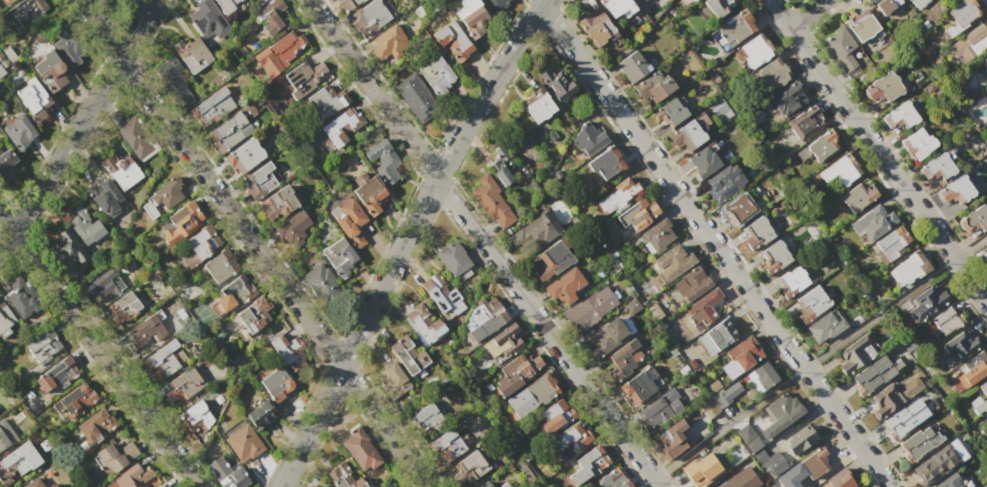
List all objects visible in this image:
building: (105, 0)
building: (910, 0)
building: (692, 1)
building: (8, 2)
building: (347, 4)
building: (493, 4)
building: (227, 5)
building: (883, 6)
building: (720, 7)
building: (616, 8)
building: (28, 12)
building: (962, 12)
road: (806, 15)
building: (274, 16)
building: (367, 18)
building: (471, 19)
building: (206, 20)
building: (861, 25)
building: (595, 29)
building: (736, 29)
building: (68, 42)
building: (386, 43)
building: (970, 43)
building: (450, 45)
building: (842, 50)
building: (191, 52)
building: (754, 52)
building: (282, 53)
building: (983, 65)
building: (632, 68)
building: (49, 71)
building: (305, 75)
building: (772, 75)
building: (436, 77)
building: (175, 83)
building: (556, 83)
building: (654, 89)
building: (881, 92)
building: (414, 99)
building: (326, 100)
building: (34, 101)
building: (784, 104)
building: (538, 108)
building: (211, 109)
building: (719, 109)
building: (669, 115)
building: (898, 119)
road: (80, 123)
building: (806, 124)
building: (340, 129)
building: (18, 133)
building: (229, 133)
building: (692, 135)
building: (136, 136)
building: (588, 138)
building: (917, 144)
building: (823, 147)
road: (877, 151)
building: (243, 158)
building: (383, 163)
building: (703, 164)
building: (606, 165)
building: (7, 166)
building: (501, 168)
building: (120, 169)
building: (936, 170)
building: (839, 173)
building: (262, 180)
building: (722, 187)
building: (956, 194)
building: (857, 197)
building: (104, 198)
building: (371, 198)
building: (618, 198)
building: (163, 199)
building: (490, 204)
building: (278, 206)
building: (736, 212)
building: (637, 217)
building: (872, 223)
building: (974, 223)
building: (84, 224)
building: (179, 225)
building: (352, 226)
building: (295, 231)
building: (755, 234)
building: (533, 236)
building: (658, 237)
road: (405, 238)
road: (252, 243)
road: (483, 243)
road: (713, 243)
building: (892, 244)
building: (198, 248)
building: (67, 252)
building: (984, 255)
building: (341, 259)
building: (772, 259)
building: (452, 260)
building: (985, 260)
building: (550, 262)
building: (673, 264)
building: (221, 268)
building: (909, 271)
building: (791, 283)
building: (692, 285)
building: (105, 286)
building: (322, 288)
building: (565, 290)
building: (236, 293)
building: (439, 294)
building: (19, 298)
building: (812, 303)
building: (925, 303)
building: (124, 308)
building: (631, 308)
building: (705, 311)
building: (589, 312)
road: (878, 312)
building: (5, 317)
building: (256, 319)
building: (481, 322)
building: (945, 322)
building: (424, 325)
building: (826, 327)
building: (146, 333)
building: (725, 333)
building: (605, 341)
building: (507, 343)
building: (960, 346)
building: (44, 347)
road: (99, 349)
building: (290, 350)
building: (408, 356)
building: (854, 356)
building: (738, 359)
building: (163, 361)
building: (623, 363)
building: (976, 366)
building: (683, 372)
building: (872, 376)
building: (516, 377)
building: (57, 378)
building: (761, 379)
building: (391, 383)
building: (182, 387)
building: (278, 387)
building: (711, 387)
building: (909, 387)
building: (639, 389)
building: (728, 395)
building: (530, 396)
building: (701, 396)
building: (978, 397)
building: (884, 402)
building: (75, 403)
building: (707, 409)
building: (659, 410)
building: (553, 415)
building: (776, 416)
building: (262, 417)
building: (197, 418)
building: (427, 421)
road: (728, 423)
building: (897, 424)
building: (96, 427)
building: (5, 435)
building: (672, 436)
building: (570, 439)
building: (748, 439)
building: (800, 441)
building: (242, 443)
building: (919, 443)
building: (449, 447)
building: (362, 451)
building: (115, 453)
building: (815, 462)
building: (937, 462)
building: (17, 464)
building: (771, 464)
building: (583, 465)
building: (466, 468)
building: (700, 469)
building: (227, 472)
building: (132, 476)
building: (341, 477)
building: (610, 478)
building: (741, 479)
building: (838, 479)
building: (949, 481)
building: (34, 483)
building: (484, 484)
building: (50, 485)
building: (387, 485)
building: (503, 485)

